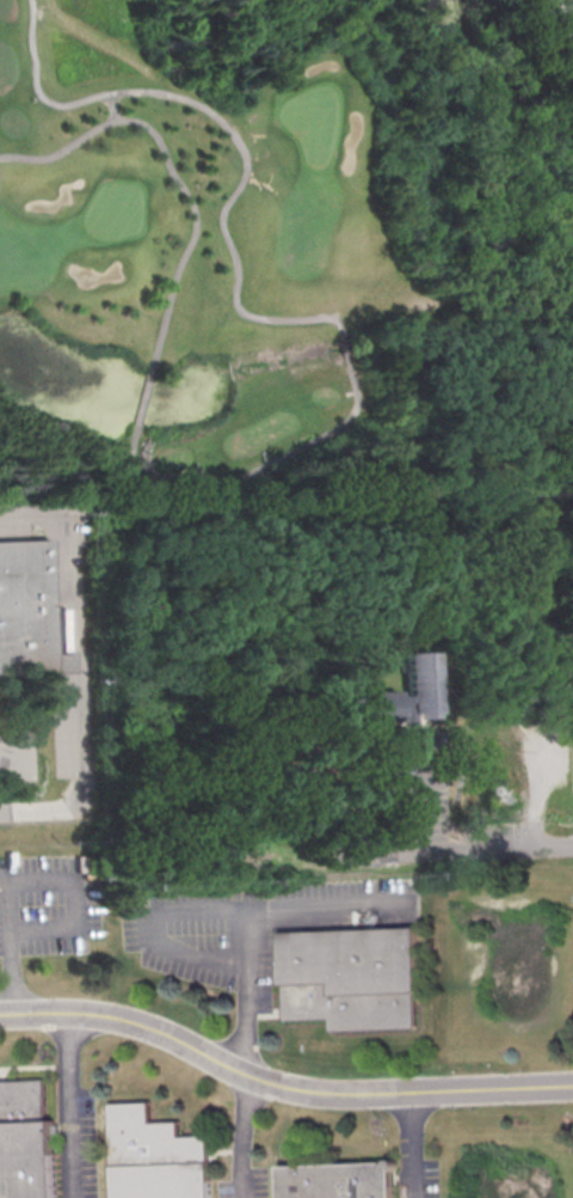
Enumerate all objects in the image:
road: (569, 10)
road: (110, 109)
road: (230, 130)
road: (170, 178)
park: (283, 244)
road: (349, 350)
road: (142, 401)
road: (251, 472)
building: (25, 610)
road: (79, 664)
road: (450, 695)
building: (406, 696)
road: (478, 707)
road: (10, 754)
parking lot: (546, 758)
road: (540, 787)
road: (425, 791)
parking lot: (421, 824)
road: (435, 851)
road: (73, 879)
parking lot: (48, 904)
road: (215, 909)
parking lot: (253, 923)
road: (17, 971)
building: (355, 978)
road: (69, 1050)
road: (245, 1052)
road: (279, 1083)
building: (26, 1141)
road: (73, 1143)
parking lot: (80, 1143)
road: (412, 1144)
building: (156, 1155)
parking lot: (419, 1178)
building: (339, 1180)
parking lot: (247, 1182)

